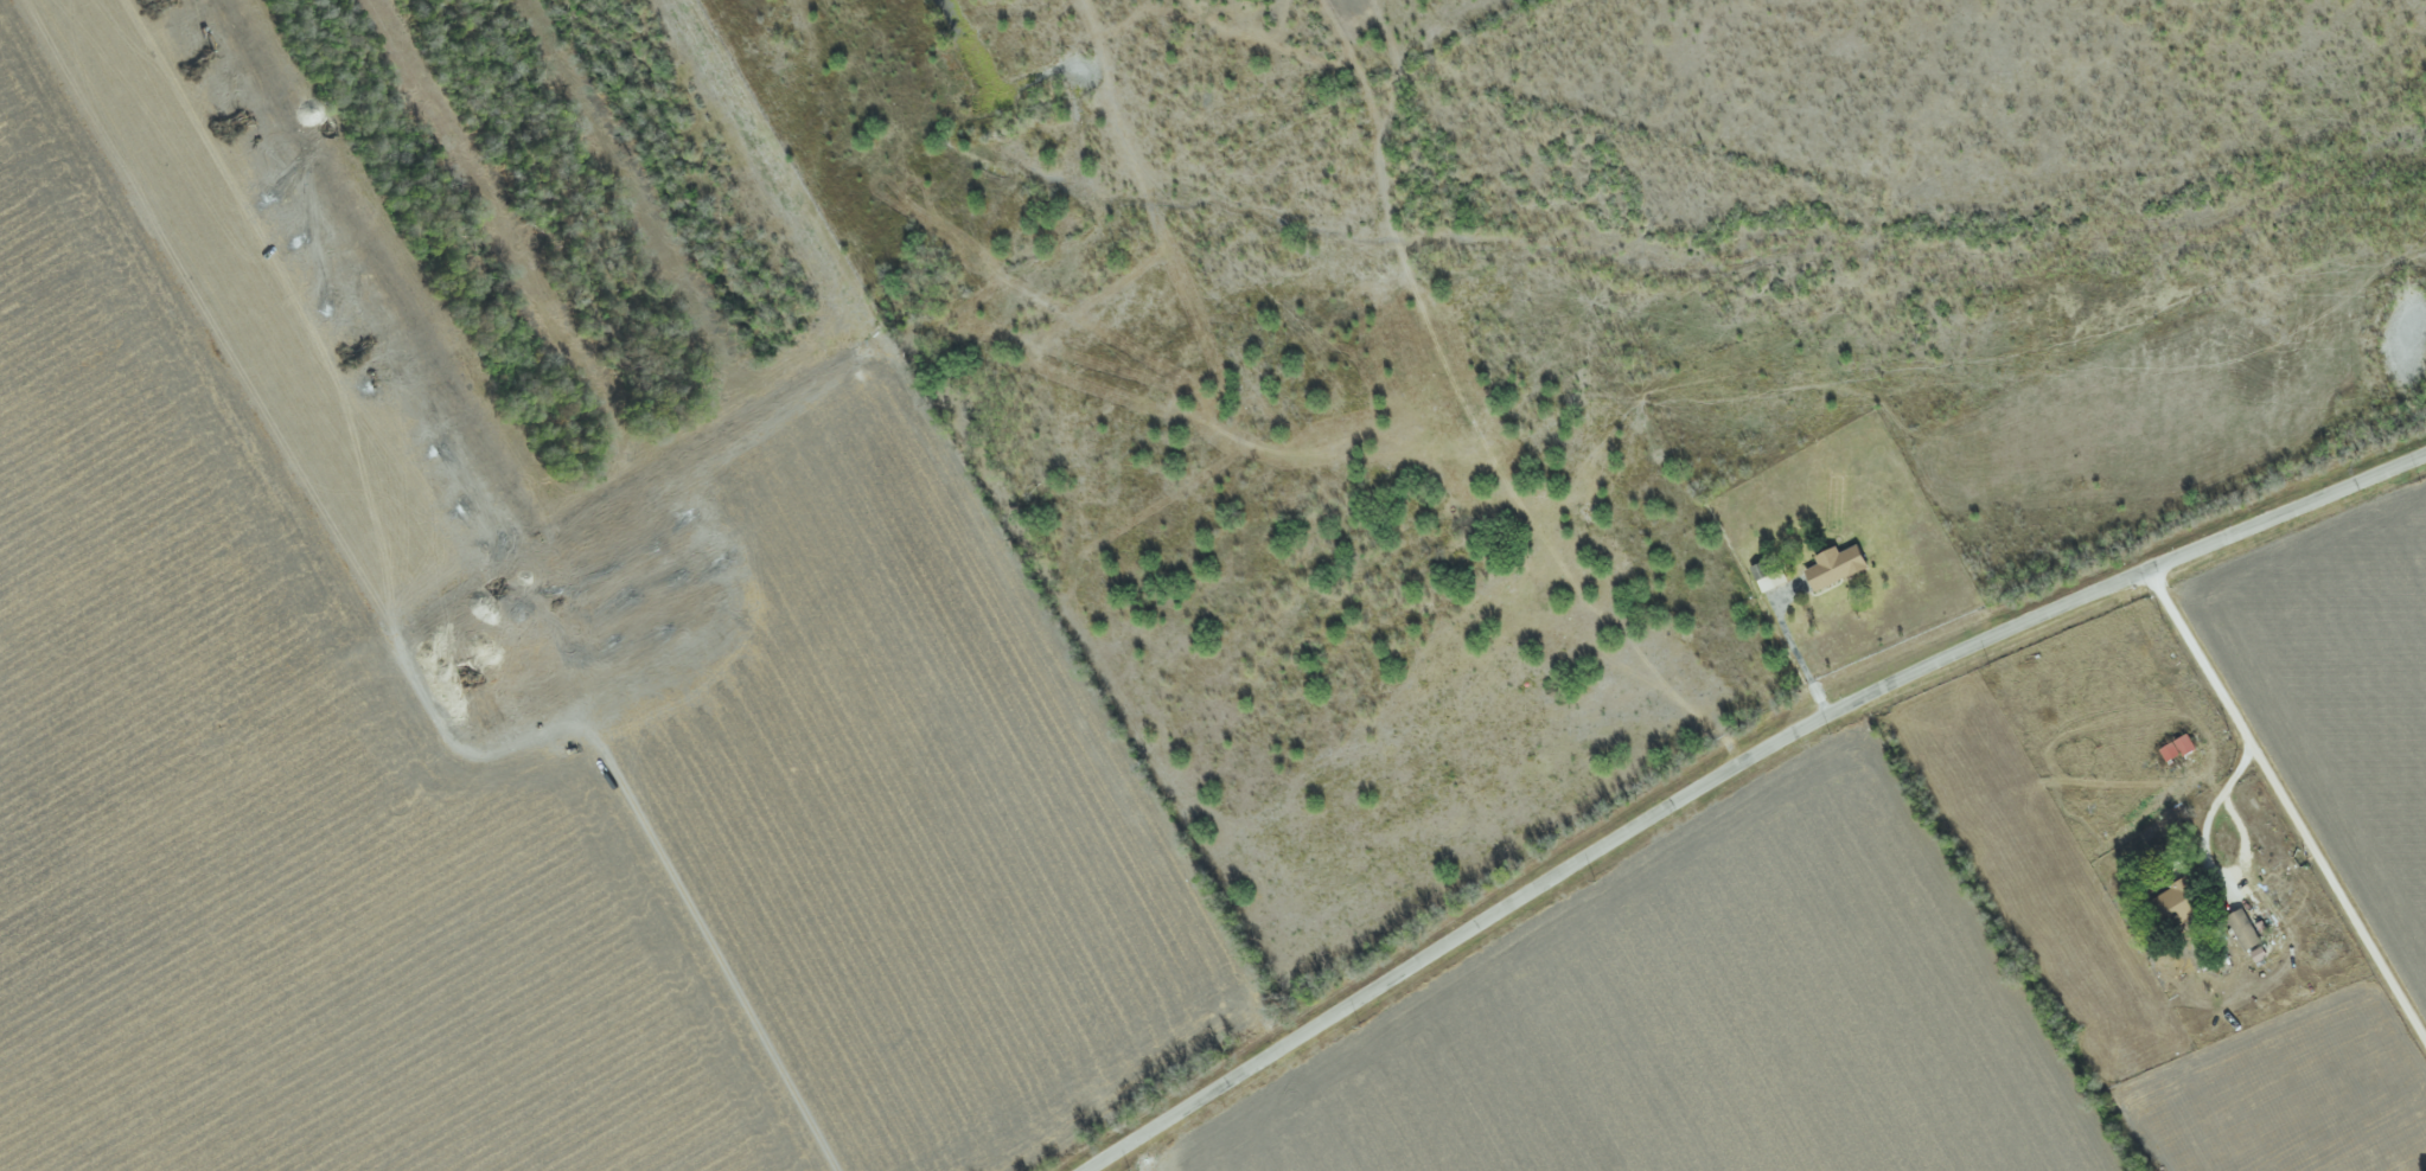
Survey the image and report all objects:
building: (1839, 567)
road: (1792, 647)
road: (1734, 770)
road: (2287, 805)
road: (2209, 864)
building: (2247, 929)
building: (2261, 954)

